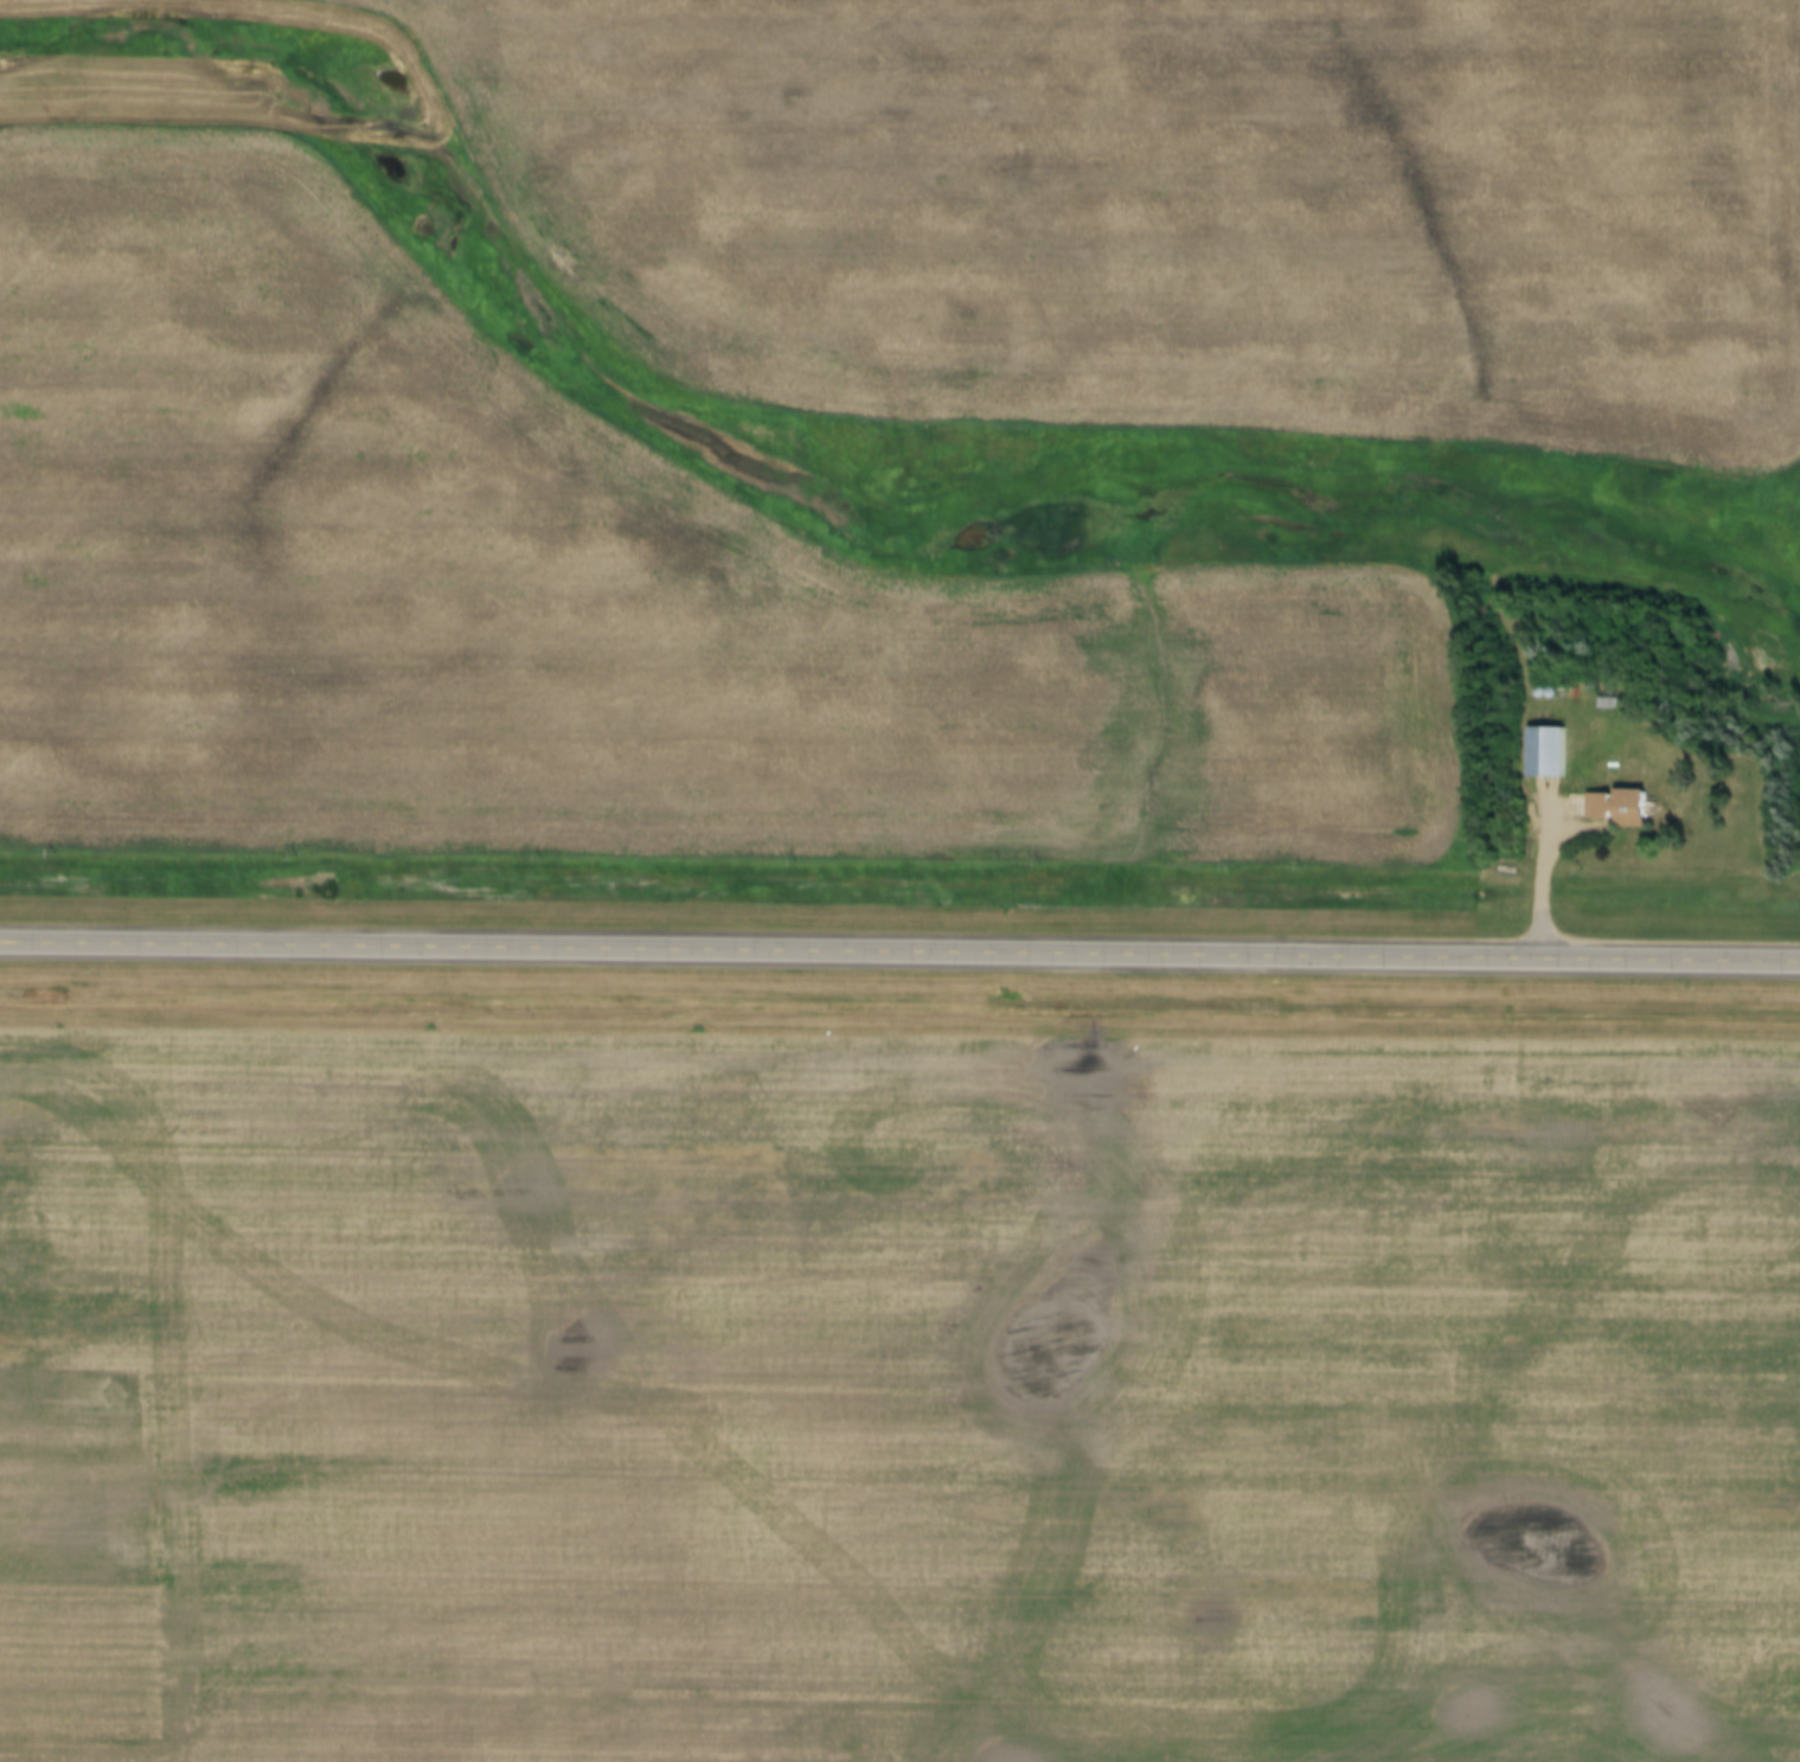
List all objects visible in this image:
building: (1540, 752)
building: (1612, 807)
road: (1549, 867)
road: (899, 949)

